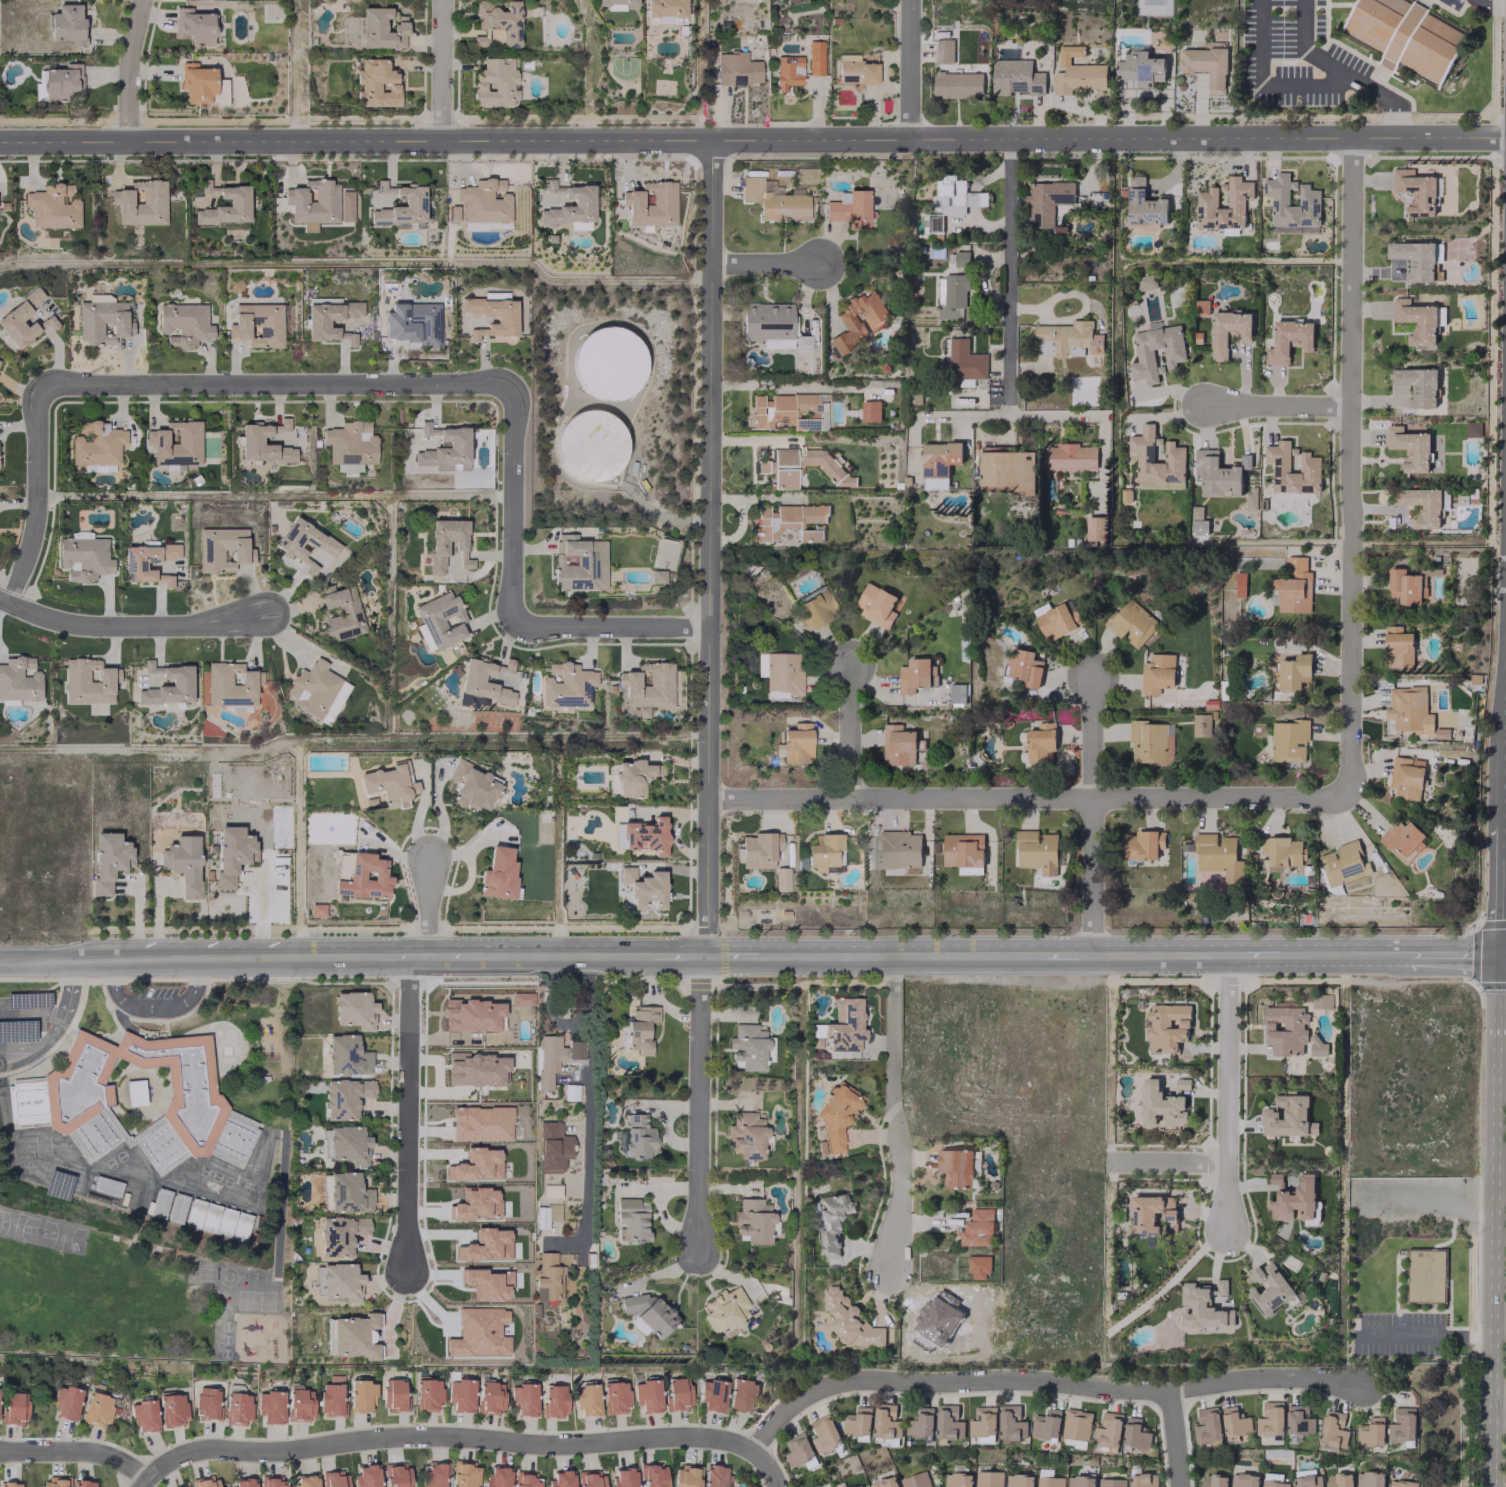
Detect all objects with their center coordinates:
road: (1490, 3)
building: (615, 4)
building: (664, 8)
building: (497, 22)
building: (67, 23)
building: (194, 26)
building: (382, 27)
building: (1407, 35)
building: (943, 51)
building: (815, 58)
building: (1206, 64)
building: (736, 68)
building: (1140, 68)
road: (127, 69)
building: (856, 69)
road: (907, 69)
road: (441, 70)
building: (787, 71)
road: (1348, 71)
building: (1076, 72)
building: (1015, 77)
building: (60, 80)
road: (1271, 81)
building: (199, 82)
building: (494, 82)
building: (376, 83)
building: (958, 84)
road: (753, 138)
building: (1415, 191)
building: (955, 196)
building: (484, 201)
building: (1308, 201)
building: (141, 202)
building: (237, 202)
building: (582, 202)
building: (318, 203)
building: (413, 203)
building: (651, 203)
building: (1047, 203)
building: (1206, 203)
building: (53, 206)
building: (1144, 206)
building: (850, 208)
building: (453, 213)
building: (934, 224)
building: (961, 258)
building: (1415, 260)
road: (763, 263)
road: (1008, 277)
building: (1145, 282)
building: (955, 290)
building: (496, 295)
building: (325, 300)
building: (949, 312)
building: (505, 317)
building: (21, 318)
building: (858, 318)
building: (102, 319)
building: (1416, 320)
building: (317, 322)
building: (184, 323)
building: (257, 324)
building: (415, 324)
building: (767, 324)
building: (1227, 331)
building: (1070, 338)
building: (350, 339)
building: (1288, 340)
building: (801, 342)
building: (1173, 354)
building: (963, 361)
building: (609, 363)
road: (277, 383)
building: (1417, 385)
road: (762, 386)
road: (1280, 405)
building: (788, 411)
building: (870, 411)
road: (1019, 414)
building: (284, 423)
building: (251, 440)
building: (175, 442)
building: (350, 442)
building: (96, 443)
building: (591, 444)
building: (444, 448)
building: (1410, 448)
building: (1068, 456)
building: (1173, 457)
building: (939, 463)
building: (798, 465)
building: (173, 466)
building: (1309, 466)
road: (1354, 466)
building: (99, 467)
building: (348, 467)
building: (1005, 468)
building: (1220, 473)
road: (39, 494)
road: (513, 503)
building: (1421, 506)
building: (789, 521)
building: (1096, 529)
building: (437, 545)
road: (707, 547)
building: (290, 548)
building: (223, 549)
building: (83, 557)
building: (147, 558)
building: (579, 562)
building: (657, 576)
building: (167, 581)
building: (1239, 585)
building: (1405, 586)
building: (1294, 587)
building: (875, 605)
building: (817, 608)
building: (341, 614)
building: (441, 619)
building: (1057, 621)
road: (130, 623)
building: (1131, 623)
road: (610, 624)
building: (1398, 647)
building: (507, 665)
building: (1025, 667)
building: (1294, 671)
building: (782, 672)
building: (1156, 672)
building: (914, 675)
building: (19, 679)
building: (471, 679)
building: (87, 681)
building: (180, 682)
building: (230, 685)
building: (565, 685)
building: (646, 685)
building: (957, 693)
building: (775, 694)
building: (1409, 710)
building: (1200, 725)
road: (852, 731)
building: (1288, 741)
building: (1149, 742)
building: (796, 743)
building: (1039, 744)
building: (898, 745)
building: (633, 776)
building: (1406, 778)
building: (388, 784)
building: (472, 786)
road: (1028, 795)
road: (1097, 814)
road: (1499, 831)
building: (645, 835)
building: (1402, 839)
building: (1142, 845)
building: (759, 849)
building: (900, 849)
building: (1037, 851)
building: (964, 852)
building: (1281, 852)
building: (231, 853)
building: (1218, 857)
building: (108, 860)
building: (183, 863)
building: (1343, 864)
building: (498, 873)
building: (360, 875)
building: (780, 878)
building: (644, 888)
road: (426, 905)
road: (259, 912)
road: (910, 953)
road: (1066, 953)
road: (1166, 953)
road: (1257, 953)
road: (566, 954)
road: (746, 954)
road: (456, 955)
road: (674, 955)
road: (1337, 955)
road: (387, 956)
road: (174, 958)
road: (1443, 958)
traffic signals: (1495, 959)
road: (1500, 959)
road: (1495, 972)
road: (152, 1003)
building: (1320, 1003)
building: (354, 1009)
road: (57, 1025)
building: (844, 1025)
building: (641, 1027)
building: (1166, 1027)
building: (1289, 1032)
building: (748, 1046)
building: (346, 1055)
building: (554, 1057)
road: (22, 1061)
road: (1230, 1089)
road: (586, 1092)
building: (345, 1097)
building: (143, 1099)
building: (1163, 1104)
road: (703, 1107)
road: (896, 1111)
road: (404, 1112)
building: (837, 1115)
building: (1287, 1117)
building: (746, 1135)
building: (638, 1136)
building: (346, 1144)
building: (552, 1146)
road: (1168, 1162)
building: (955, 1167)
building: (347, 1192)
building: (1292, 1197)
road: (1493, 1199)
building: (1148, 1215)
building: (632, 1218)
building: (215, 1219)
building: (753, 1220)
building: (831, 1221)
building: (977, 1228)
building: (340, 1234)
building: (978, 1267)
building: (548, 1276)
building: (1425, 1276)
building: (337, 1282)
building: (1220, 1285)
building: (1268, 1289)
building: (1200, 1309)
building: (724, 1310)
building: (649, 1311)
building: (849, 1320)
road: (1437, 1334)
building: (354, 1335)
building: (428, 1393)
building: (677, 1393)
building: (460, 1394)
building: (741, 1394)
building: (395, 1395)
building: (647, 1395)
building: (712, 1395)
building: (331, 1396)
building: (361, 1396)
building: (490, 1396)
building: (615, 1397)
building: (554, 1400)
building: (586, 1400)
building: (66, 1402)
building: (207, 1403)
building: (300, 1404)
road: (1498, 1406)
building: (14, 1407)
building: (270, 1407)
building: (238, 1408)
building: (97, 1409)
building: (173, 1409)
building: (144, 1415)
building: (1270, 1419)
building: (1299, 1420)
building: (886, 1422)
building: (949, 1422)
building: (983, 1422)
building: (1235, 1422)
building: (859, 1423)
building: (921, 1423)
building: (1011, 1424)
building: (1046, 1424)
building: (1077, 1425)
building: (1207, 1425)
building: (1402, 1425)
building: (1108, 1430)
building: (1333, 1430)
building: (1371, 1432)
building: (1135, 1433)
building: (825, 1434)
road: (695, 1436)
road: (1176, 1440)
road: (1490, 1450)
building: (800, 1452)
road: (769, 1469)
building: (434, 1474)
building: (463, 1474)
building: (395, 1475)
building: (366, 1476)
building: (653, 1476)
building: (686, 1476)
building: (715, 1476)
building: (496, 1477)
building: (622, 1477)
building: (560, 1478)
building: (1306, 1478)
building: (335, 1479)
building: (525, 1479)
building: (589, 1479)
building: (988, 1479)
building: (1369, 1479)
building: (919, 1480)
building: (957, 1480)
building: (1018, 1480)
building: (1142, 1480)
building: (1244, 1480)
building: (1339, 1480)
building: (55, 1481)
building: (270, 1481)
building: (304, 1481)
building: (1050, 1481)
building: (1080, 1481)
building: (1212, 1481)
building: (204, 1482)
building: (242, 1482)
building: (884, 1482)
building: (1111, 1482)
building: (83, 1483)
building: (1274, 1483)
building: (1401, 1483)
building: (11, 1484)
road: (143, 1484)
building: (180, 1486)
building: (857, 1486)

